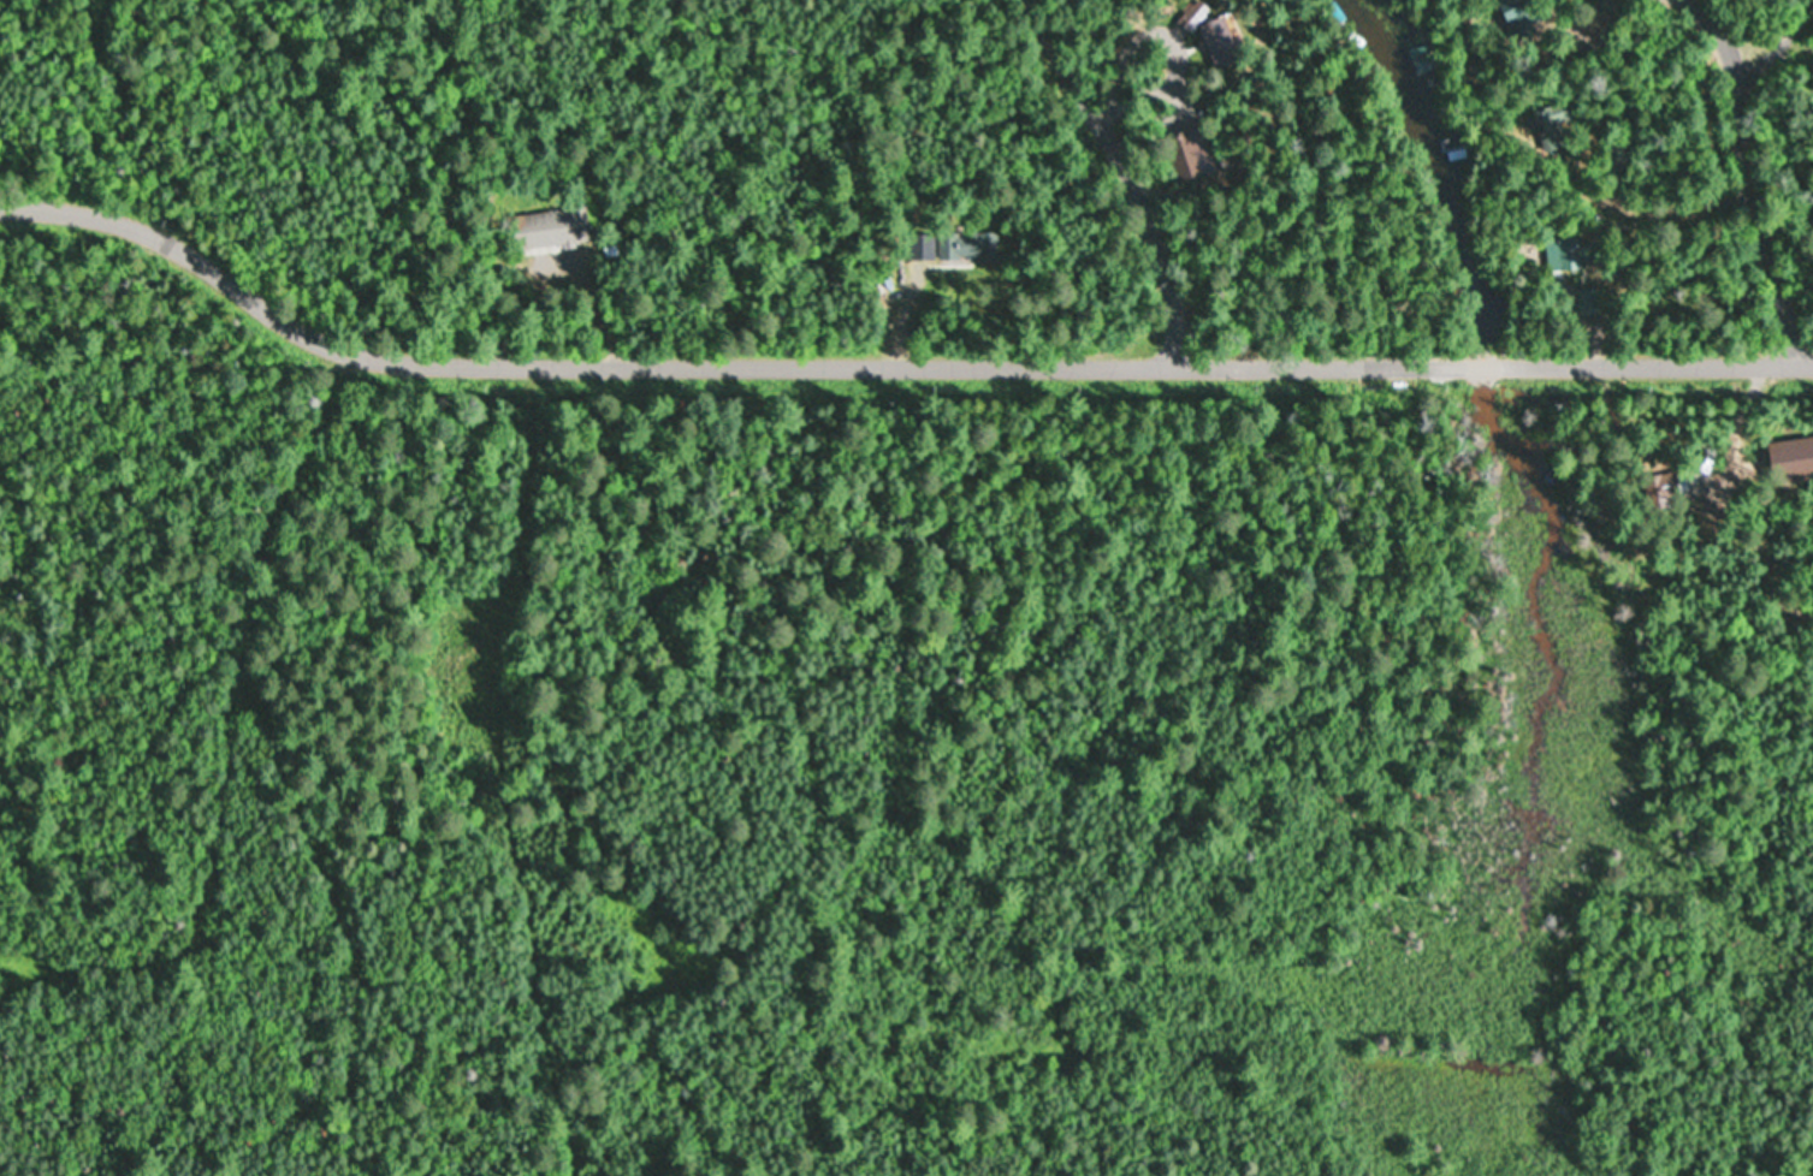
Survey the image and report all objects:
building: (1191, 16)
road: (1750, 35)
building: (1219, 42)
building: (1548, 127)
road: (1109, 177)
road: (1728, 179)
building: (551, 228)
building: (950, 247)
building: (1566, 253)
road: (883, 367)

